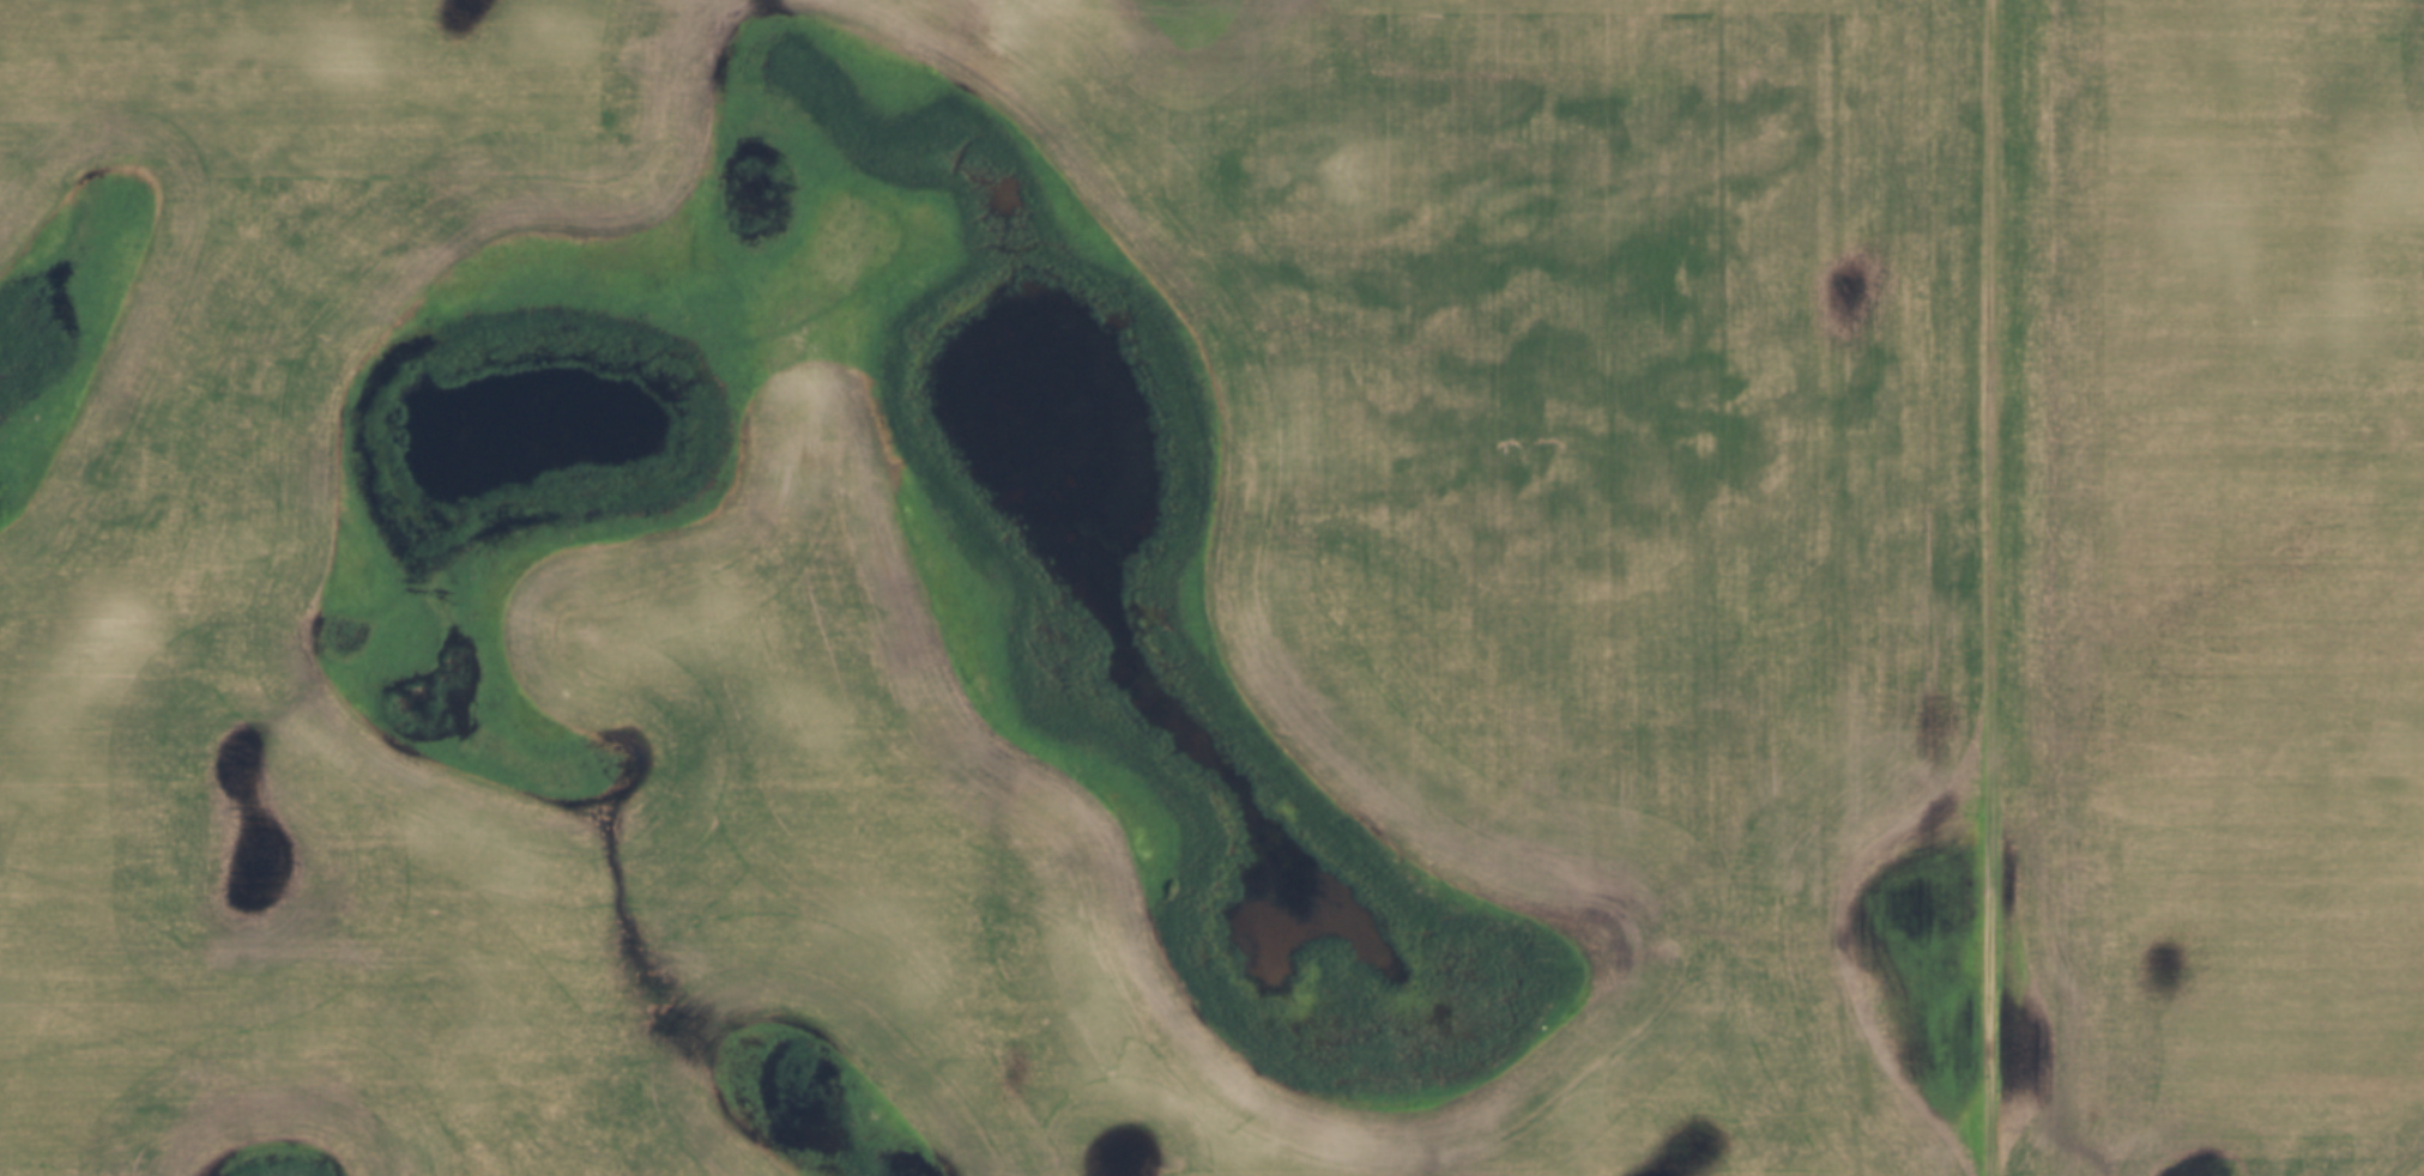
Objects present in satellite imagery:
road: (1993, 588)

